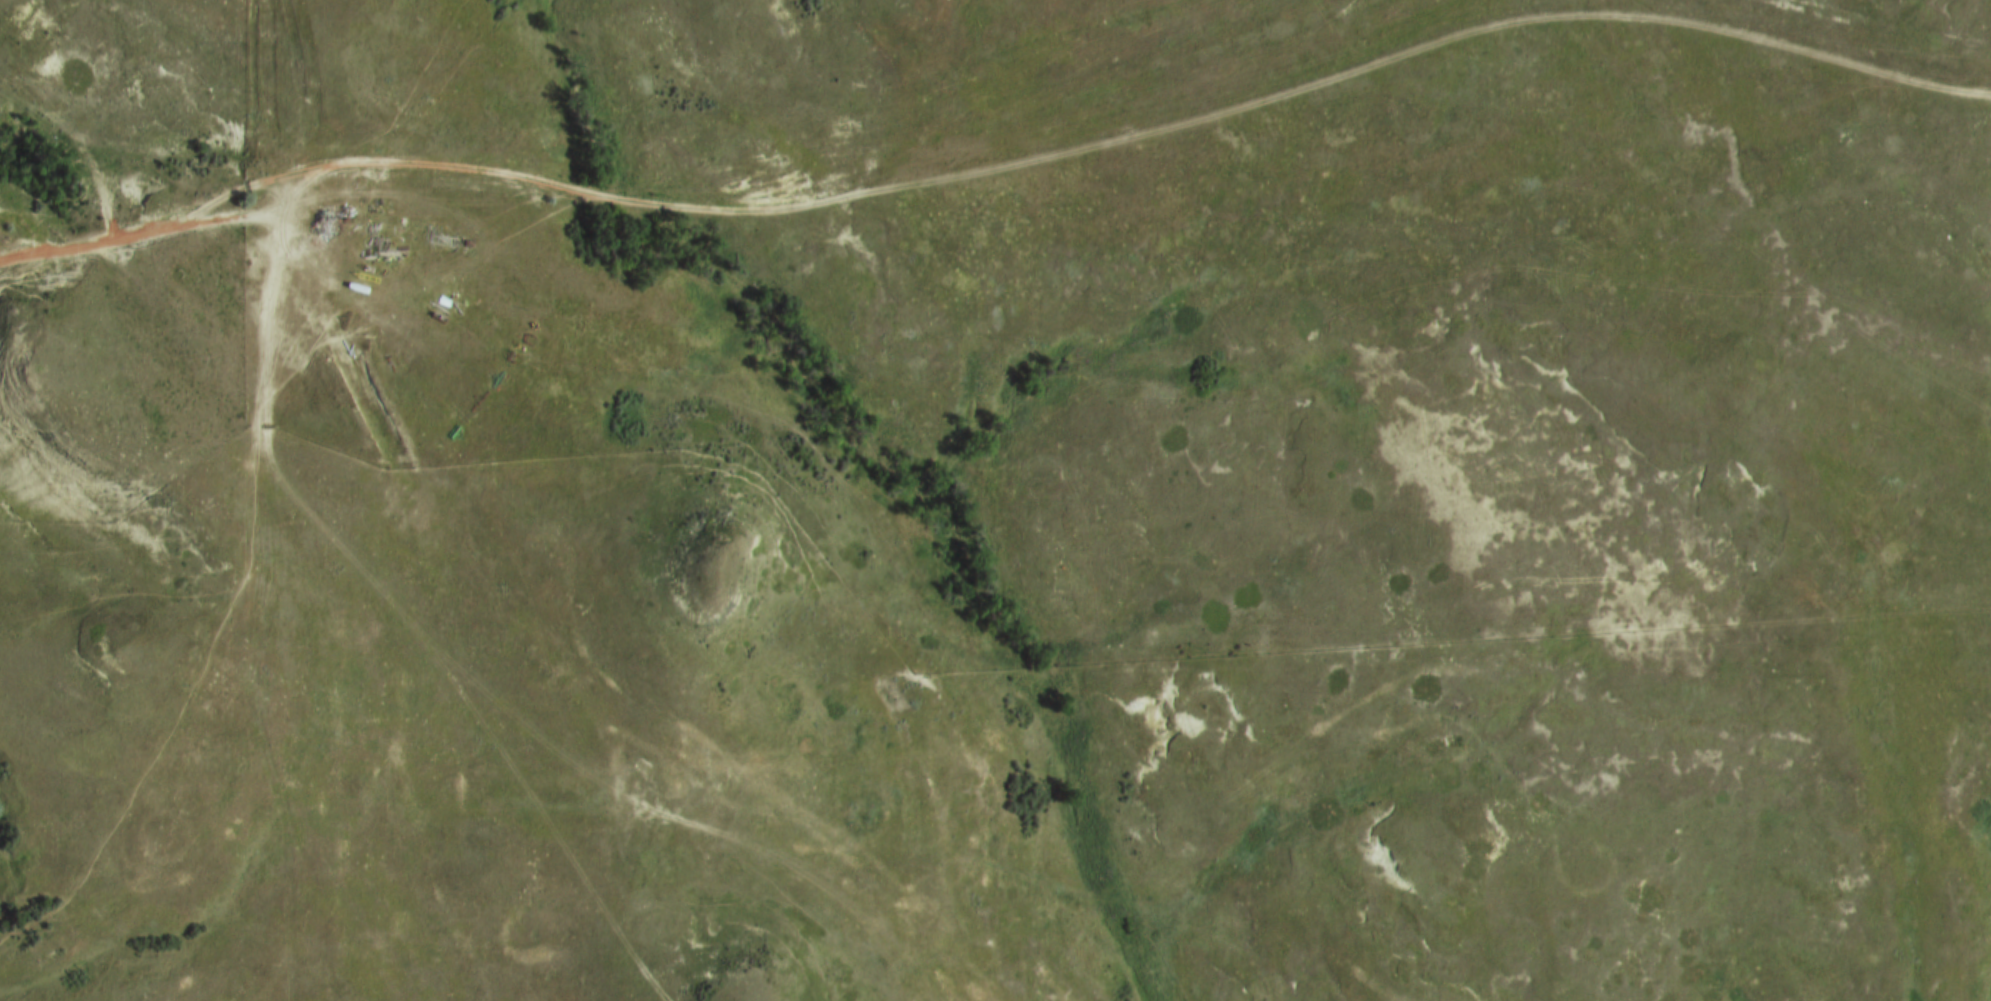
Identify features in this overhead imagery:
road: (1446, 12)
road: (997, 156)

